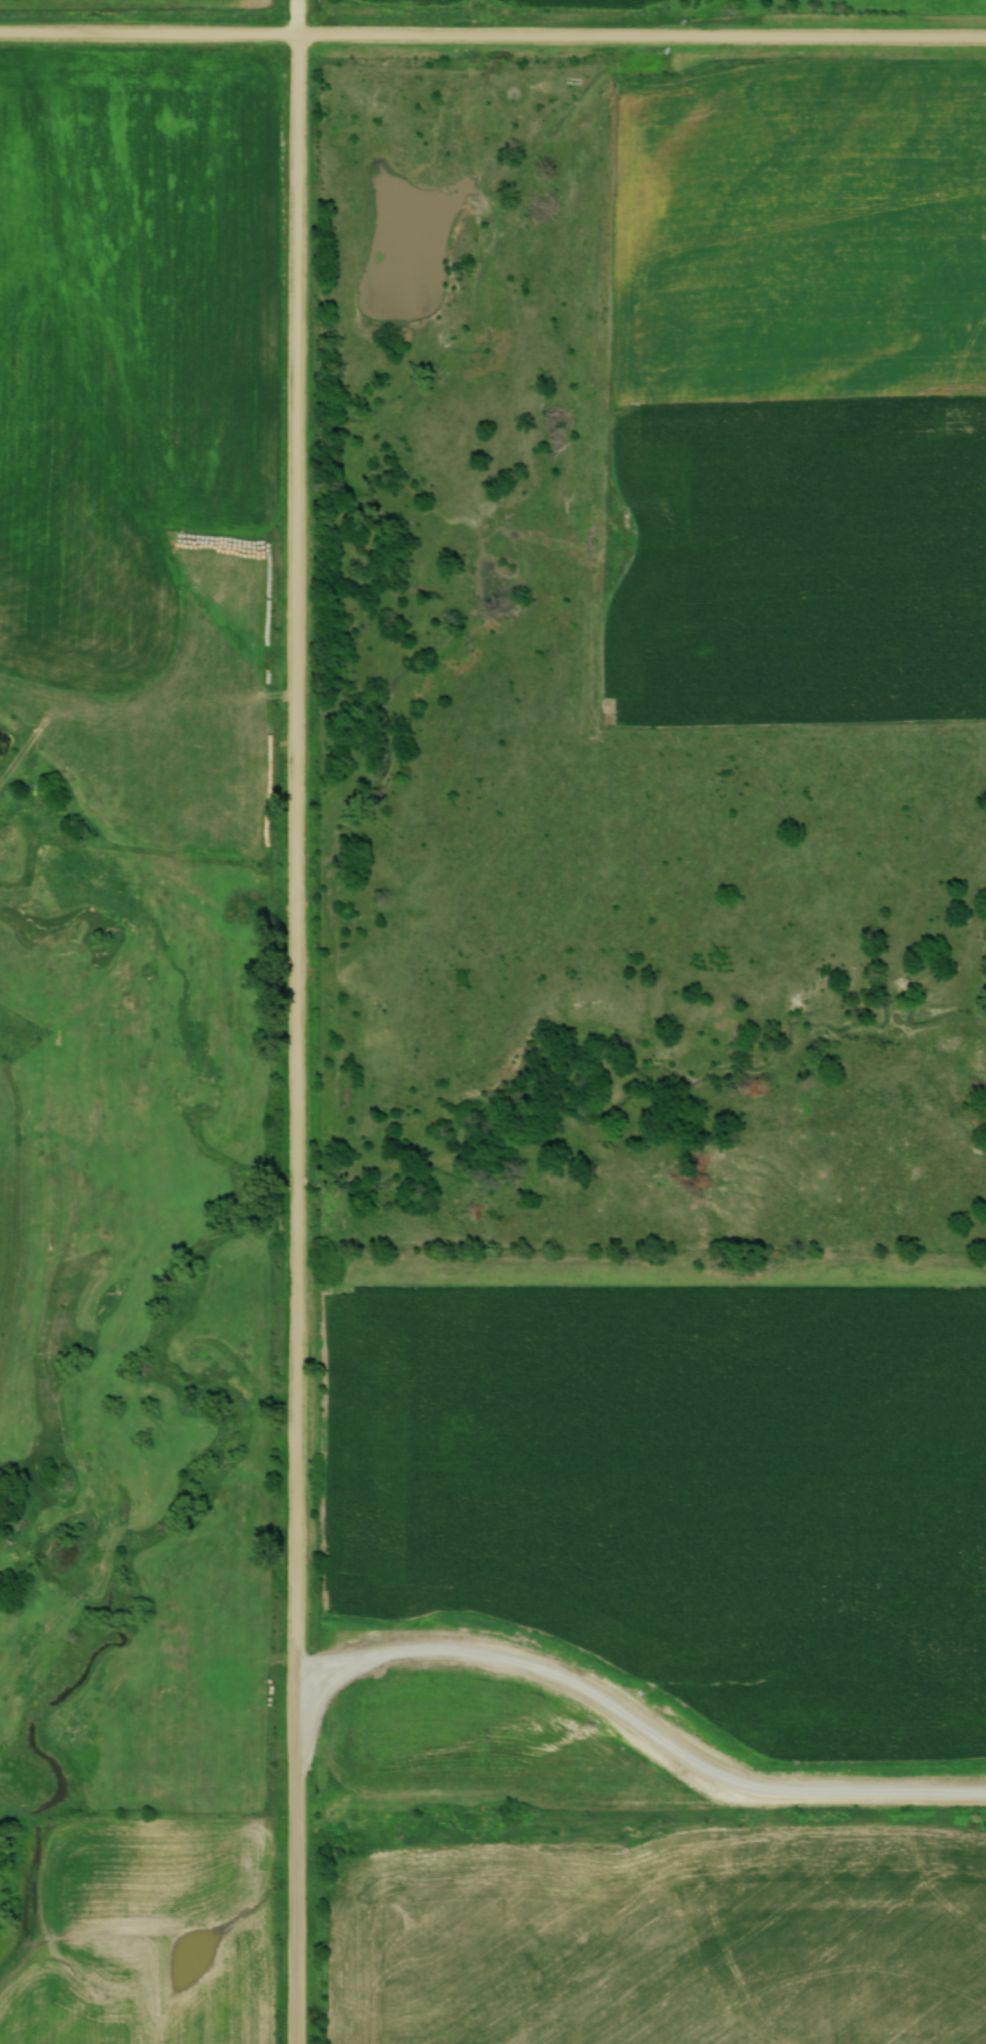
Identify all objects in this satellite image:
road: (492, 37)
road: (297, 1021)

